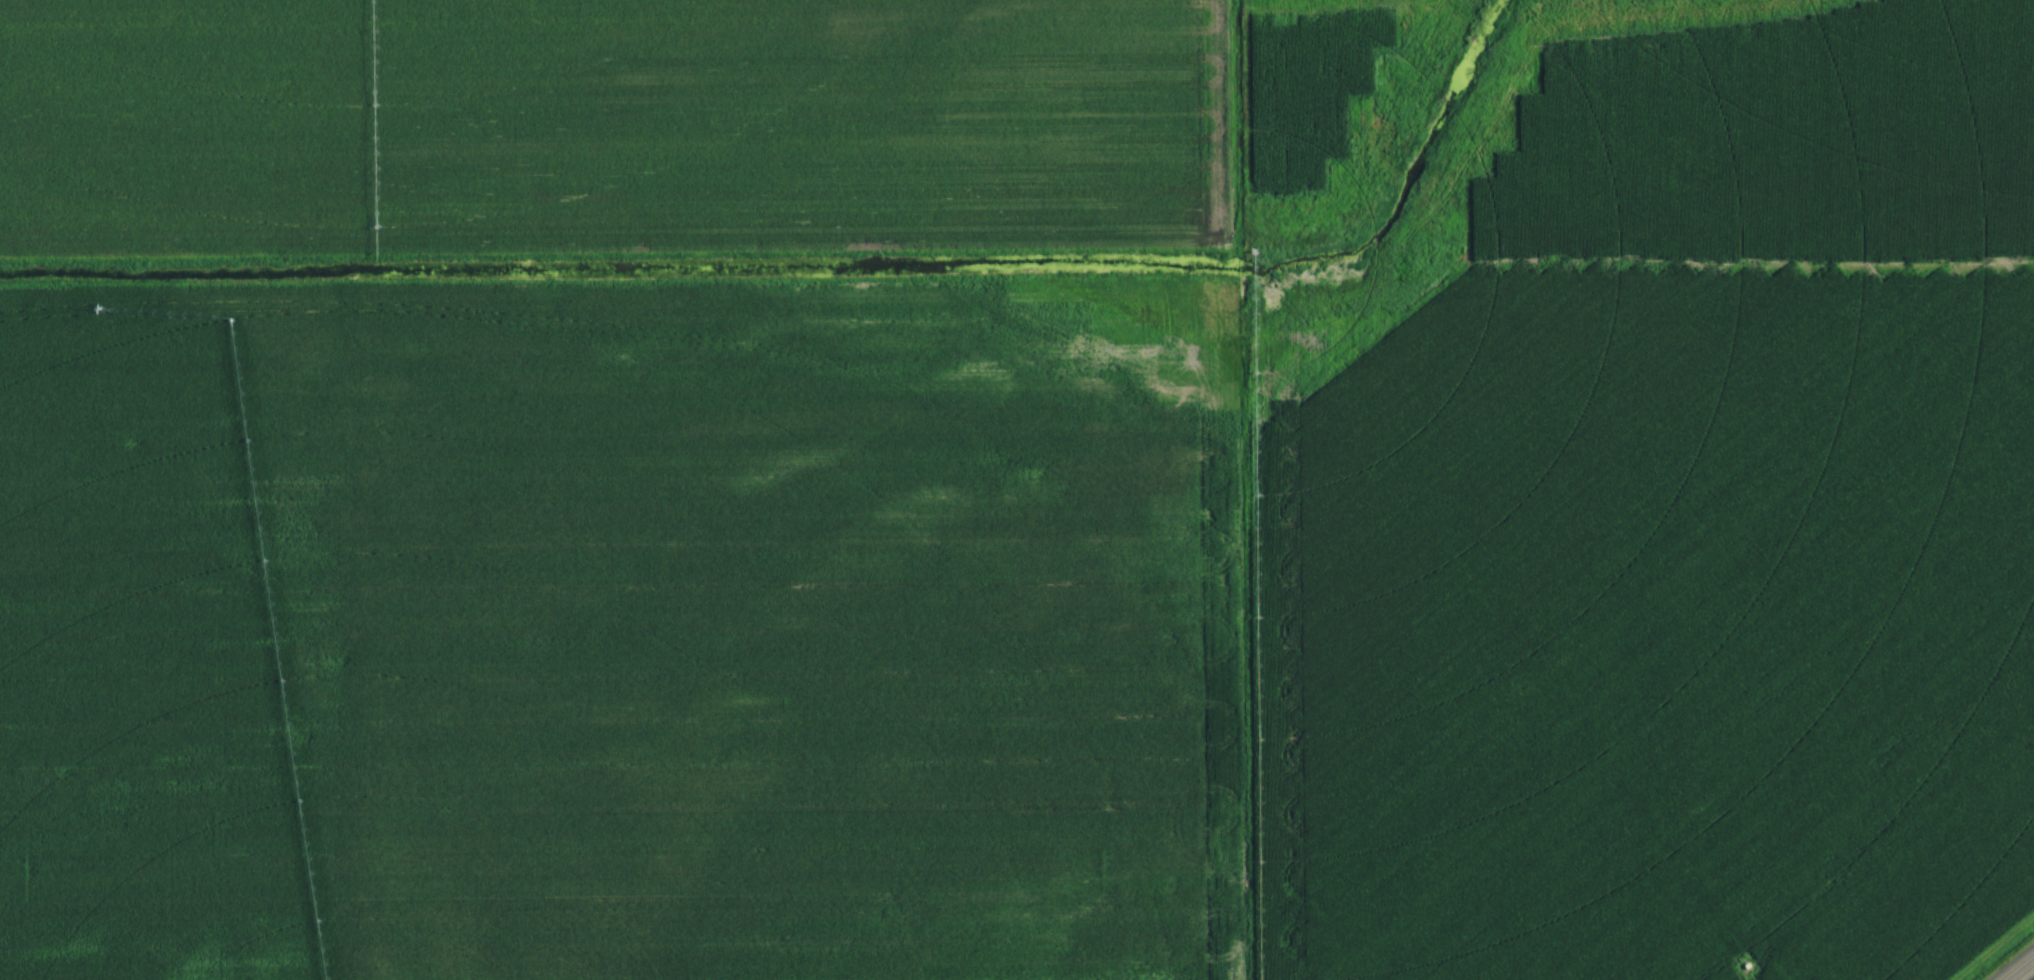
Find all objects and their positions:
railway: (2016, 965)
railway: (2024, 972)

